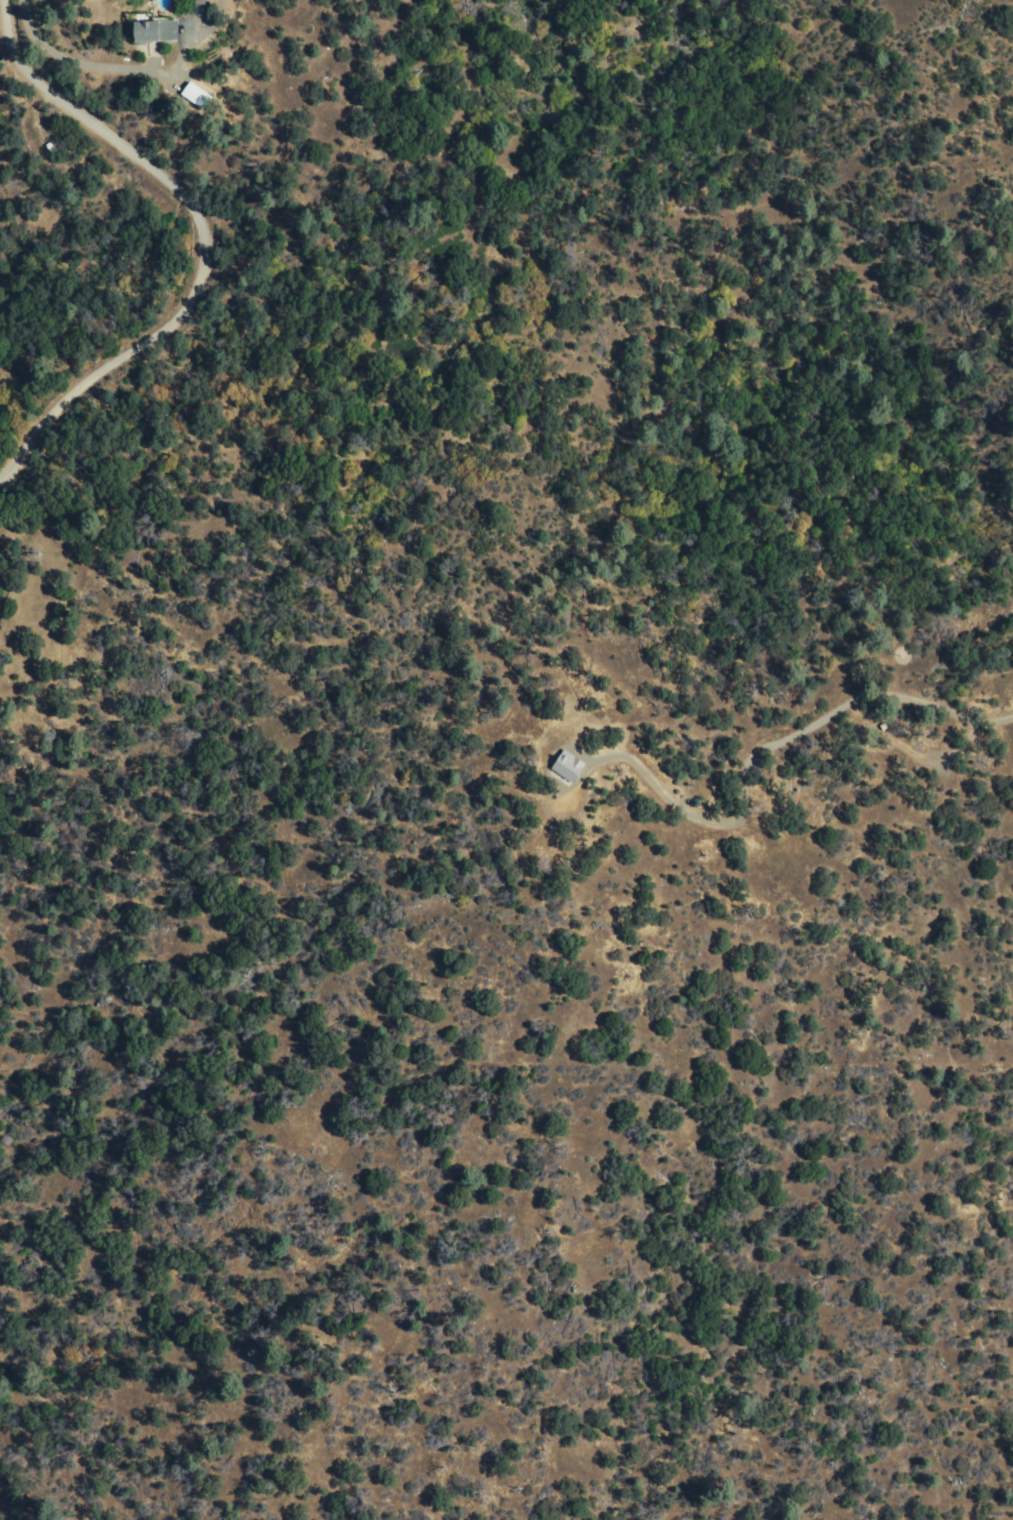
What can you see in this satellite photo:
building: (146, 28)
road: (6, 45)
road: (205, 245)
building: (560, 765)

